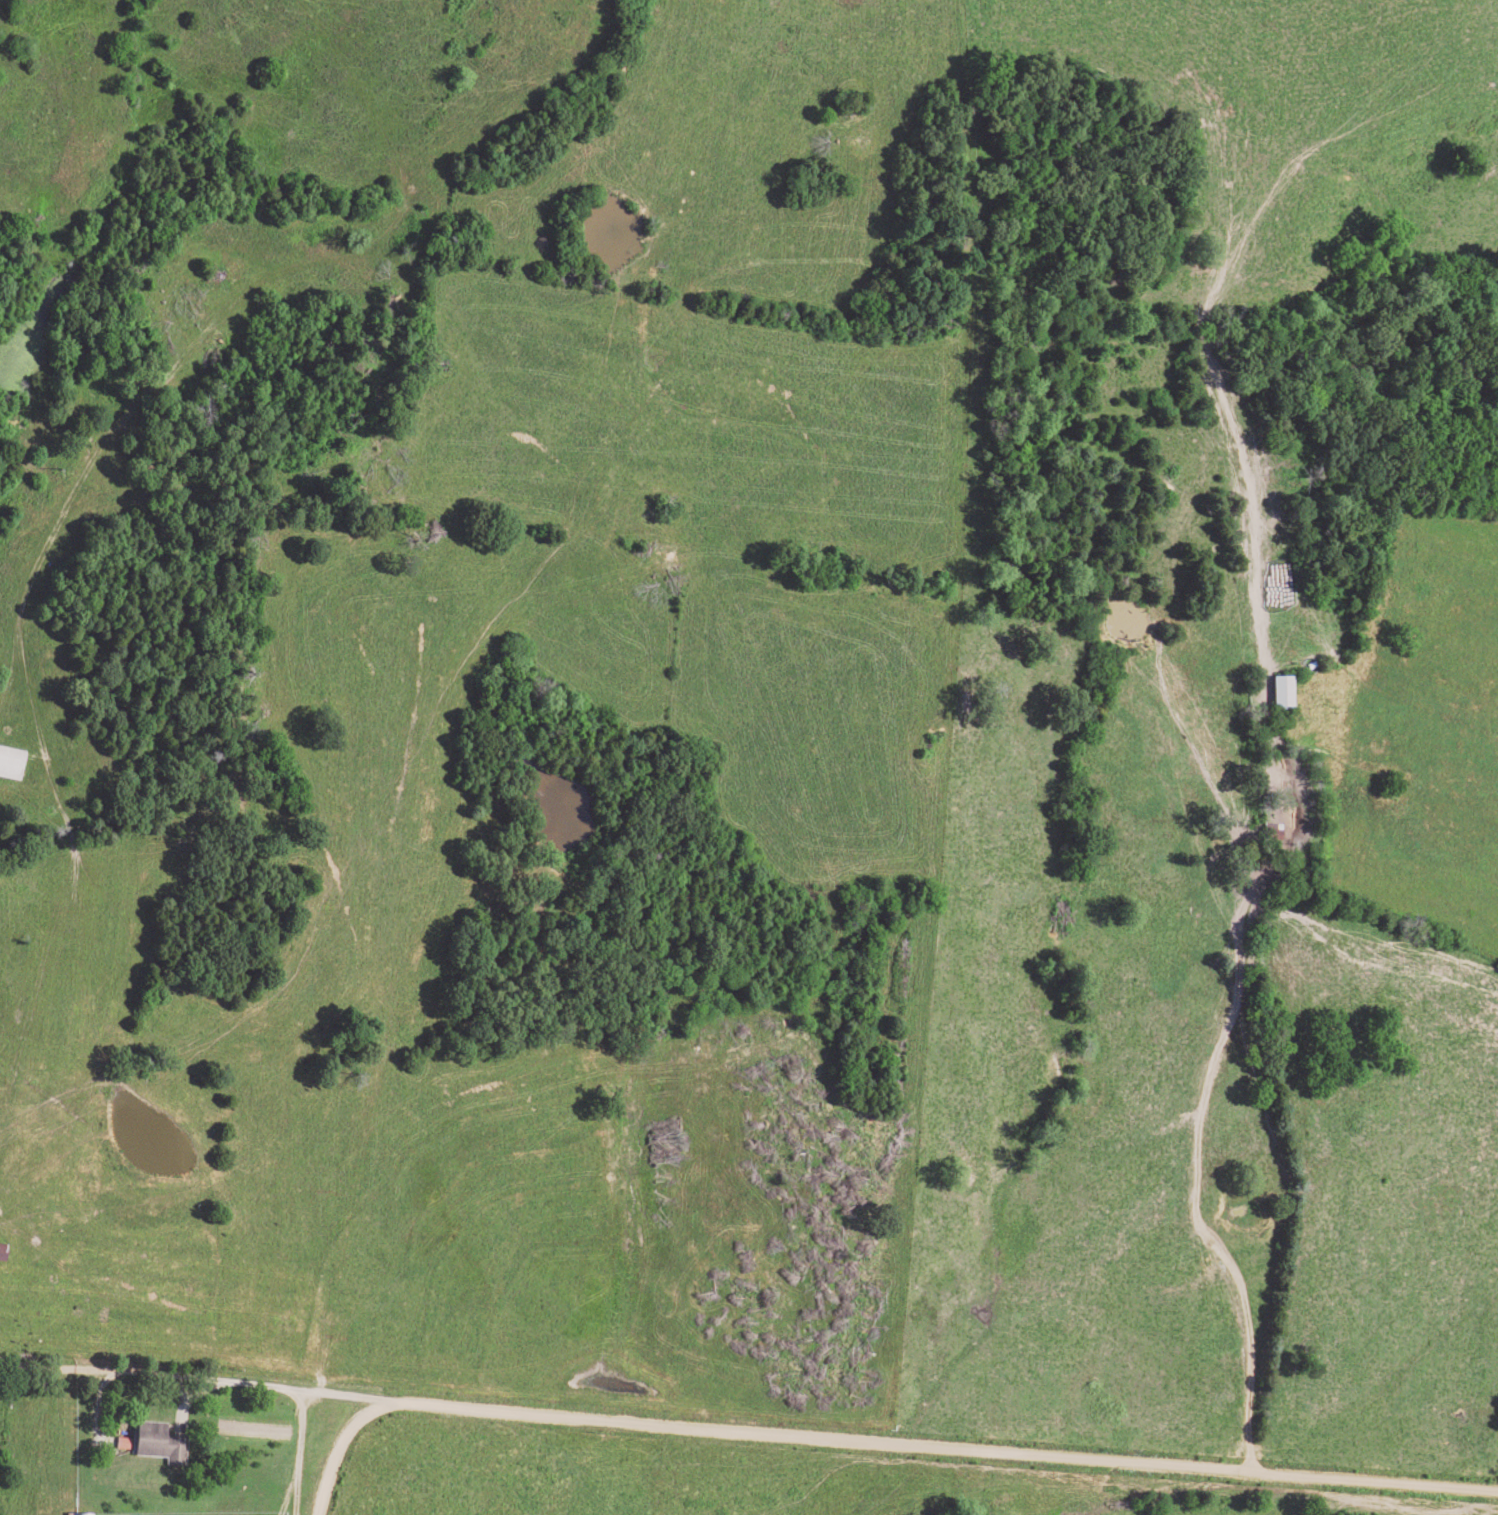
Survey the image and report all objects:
building: (1280, 691)
building: (10, 763)
road: (1299, 1181)
road: (197, 1377)
road: (321, 1430)
building: (156, 1441)
road: (872, 1441)
building: (120, 1443)

